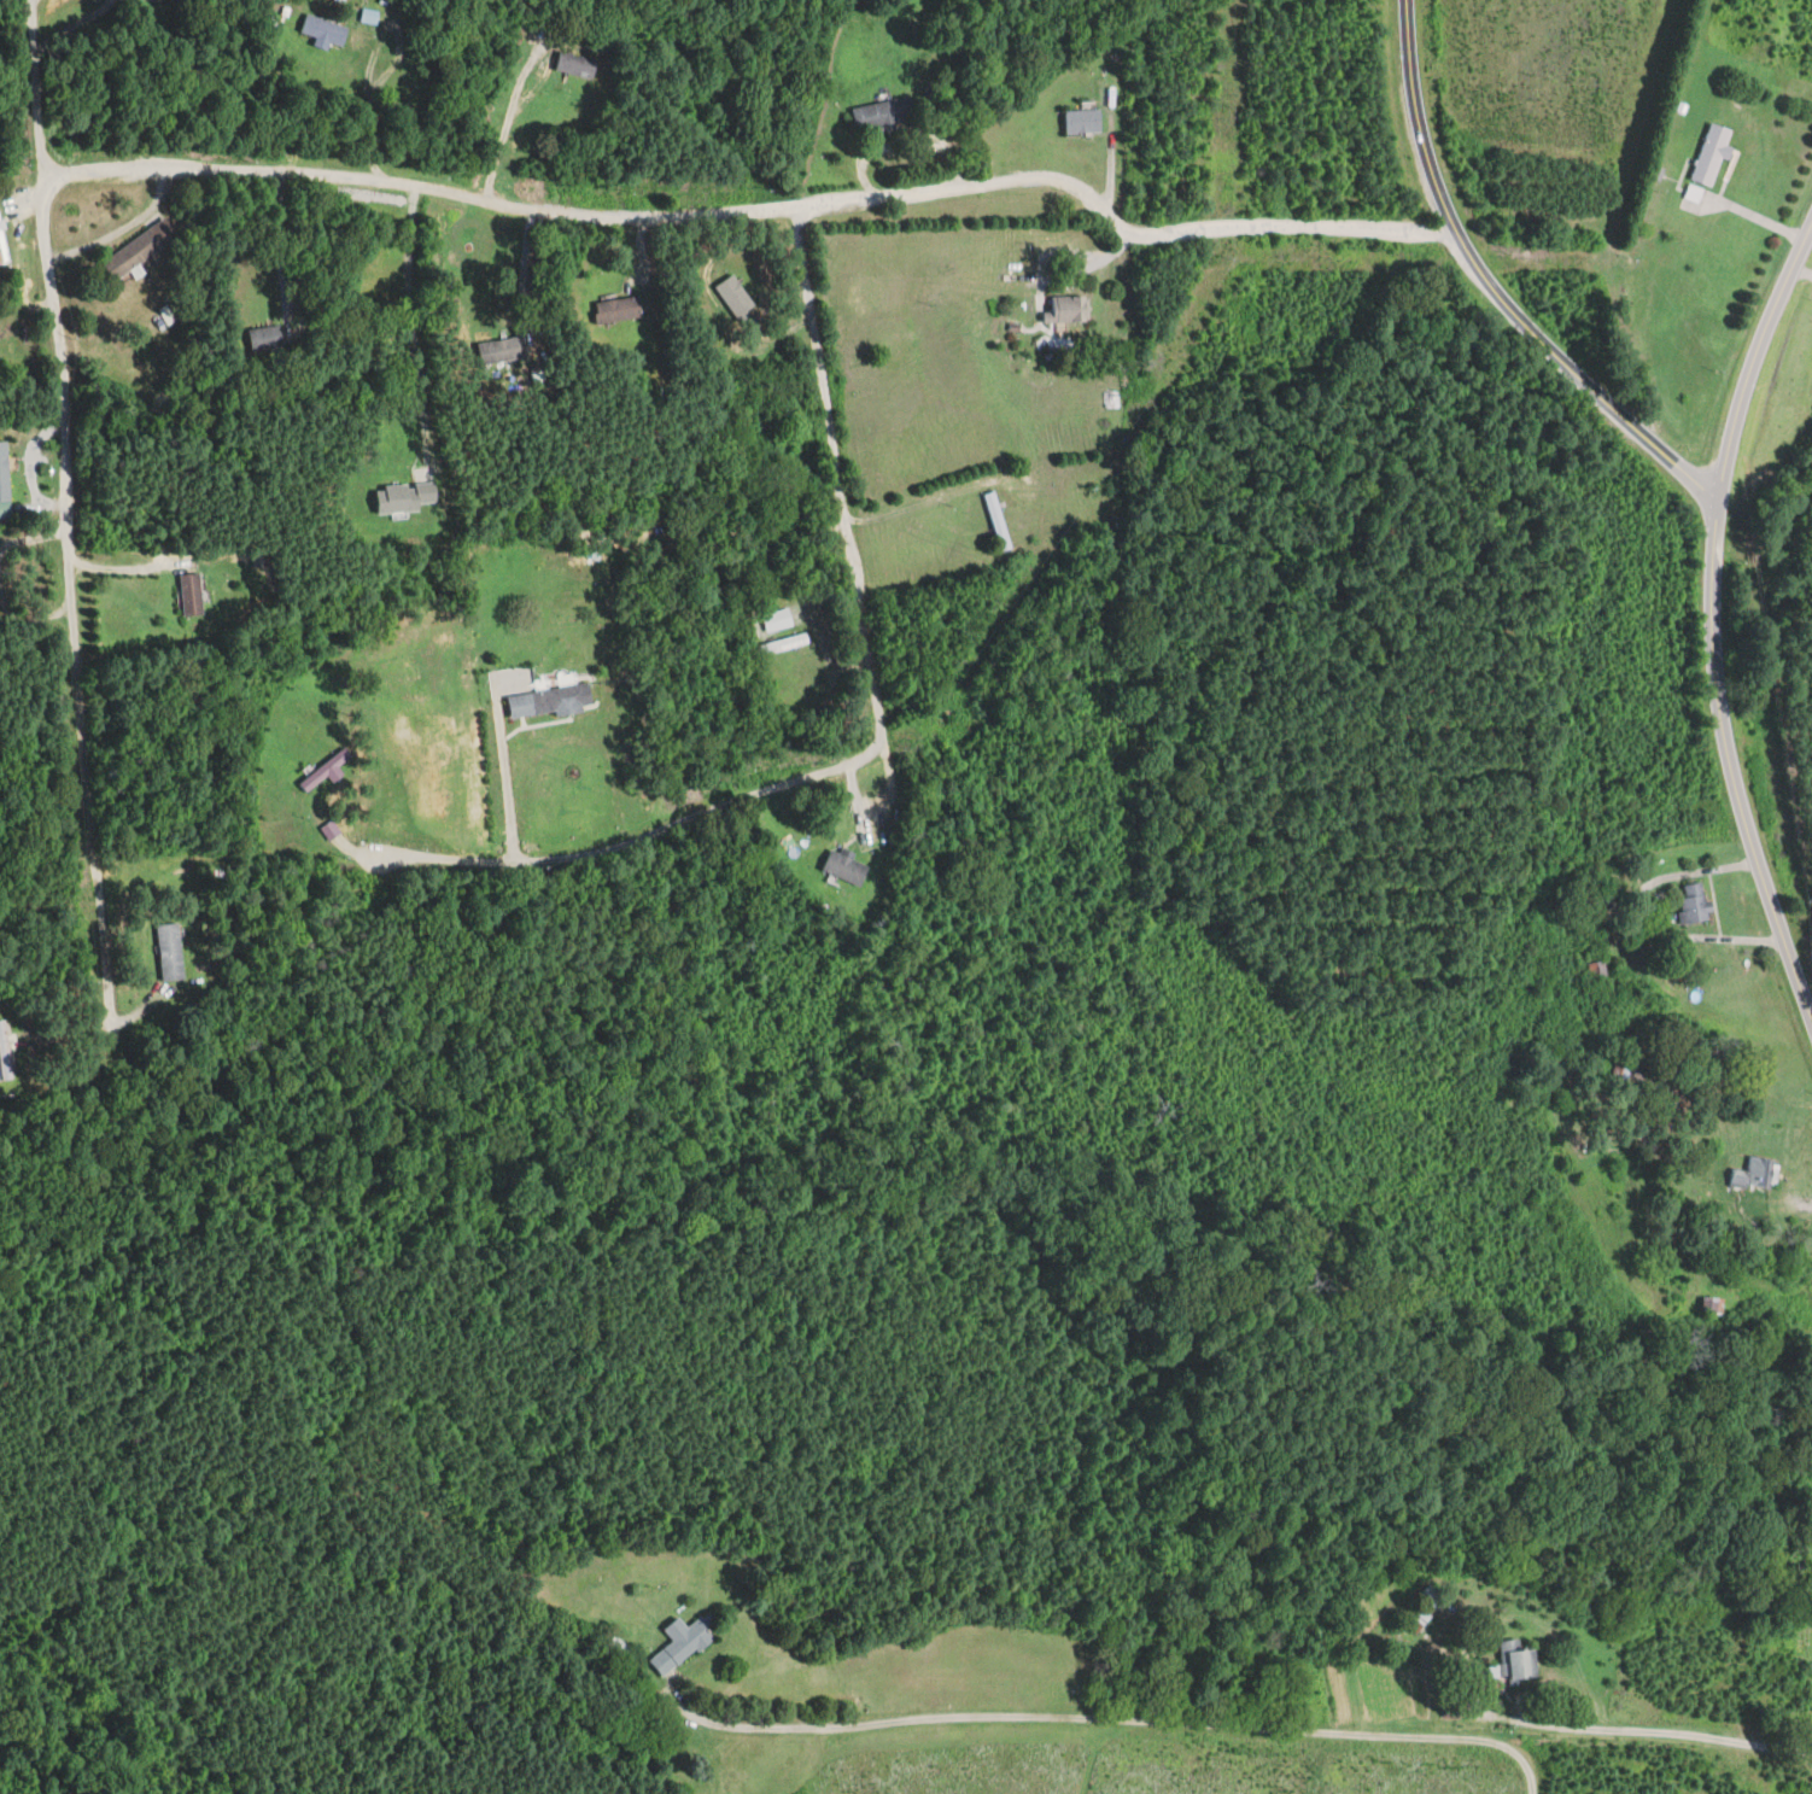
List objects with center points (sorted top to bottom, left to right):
road: (74, 24)
building: (326, 30)
road: (372, 58)
building: (577, 65)
road: (510, 115)
building: (883, 115)
building: (1082, 122)
road: (910, 141)
building: (1712, 154)
road: (759, 206)
road: (1811, 220)
road: (1811, 221)
building: (2, 245)
road: (279, 246)
building: (141, 249)
road: (525, 265)
road: (1085, 265)
road: (1492, 290)
building: (736, 296)
building: (1066, 308)
building: (619, 309)
road: (413, 326)
building: (265, 337)
building: (497, 351)
building: (4, 472)
road: (69, 513)
building: (996, 520)
building: (193, 594)
road: (1711, 619)
building: (776, 620)
building: (782, 644)
building: (551, 701)
road: (875, 731)
building: (325, 770)
road: (509, 784)
building: (844, 866)
building: (1696, 902)
building: (170, 952)
building: (5, 1052)
building: (1755, 1174)
building: (1713, 1305)
building: (1415, 1620)
building: (682, 1644)
building: (615, 1649)
building: (1516, 1662)
road: (1105, 1719)
road: (1671, 1735)

